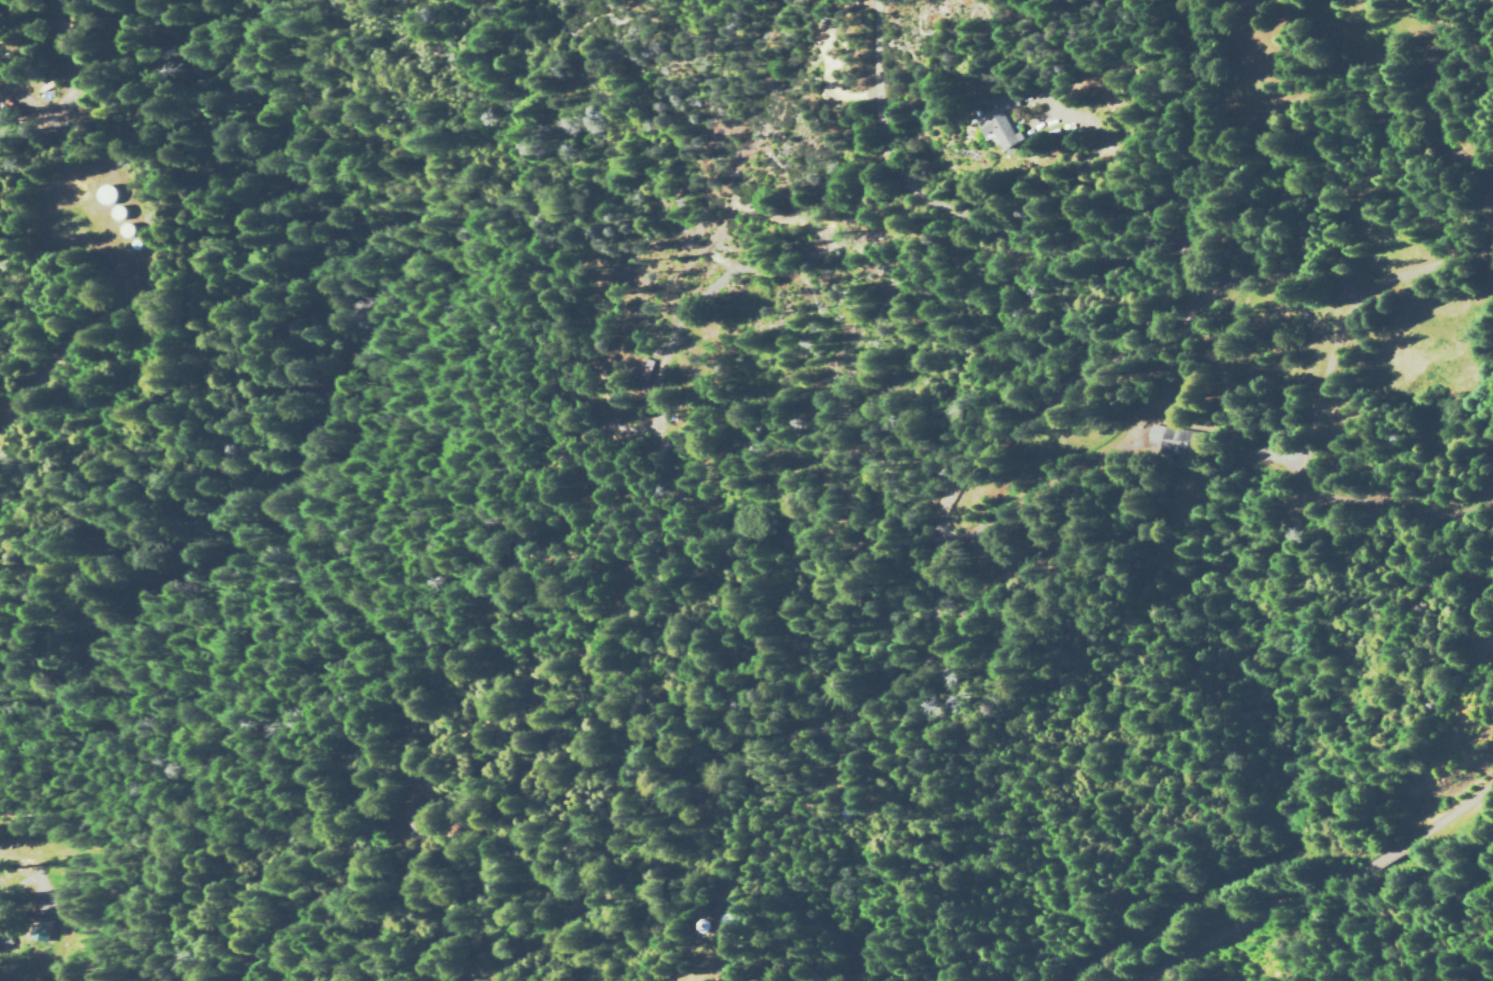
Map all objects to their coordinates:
building: (1000, 129)
building: (108, 193)
building: (129, 229)
road: (89, 335)
building: (1172, 439)
road: (899, 522)

